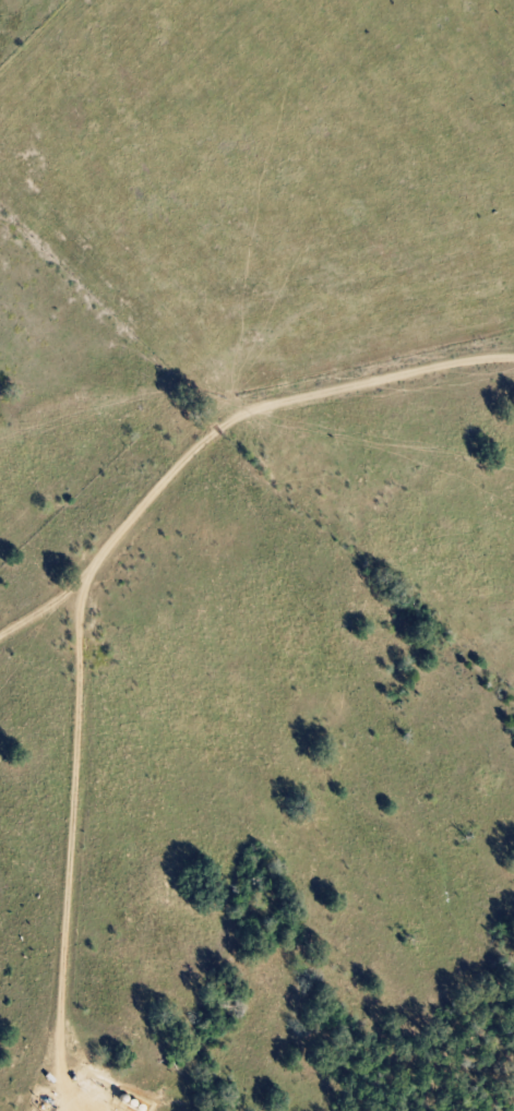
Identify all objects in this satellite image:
road: (249, 588)

